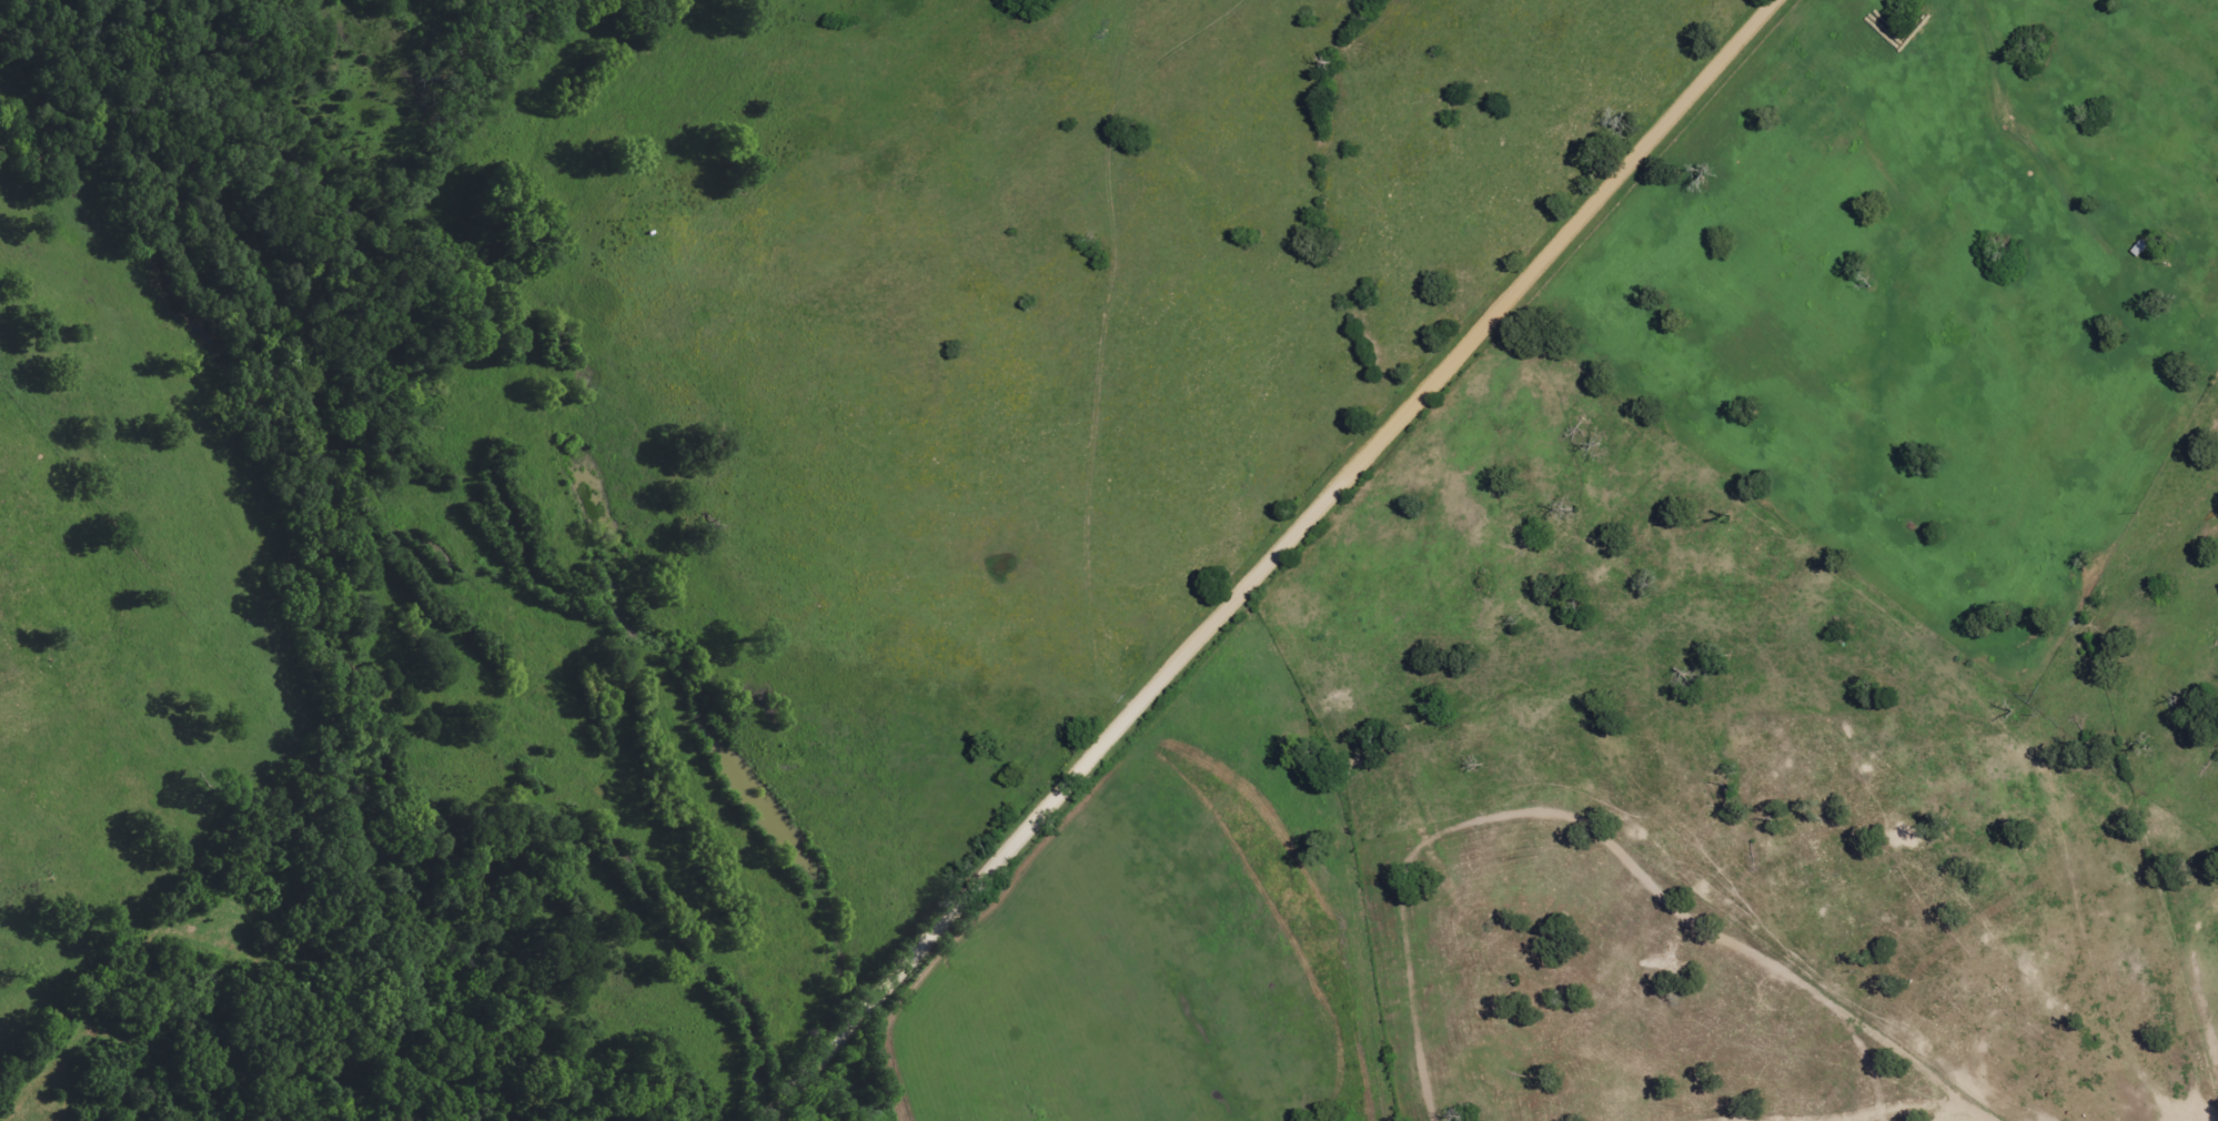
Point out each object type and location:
road: (1271, 559)

